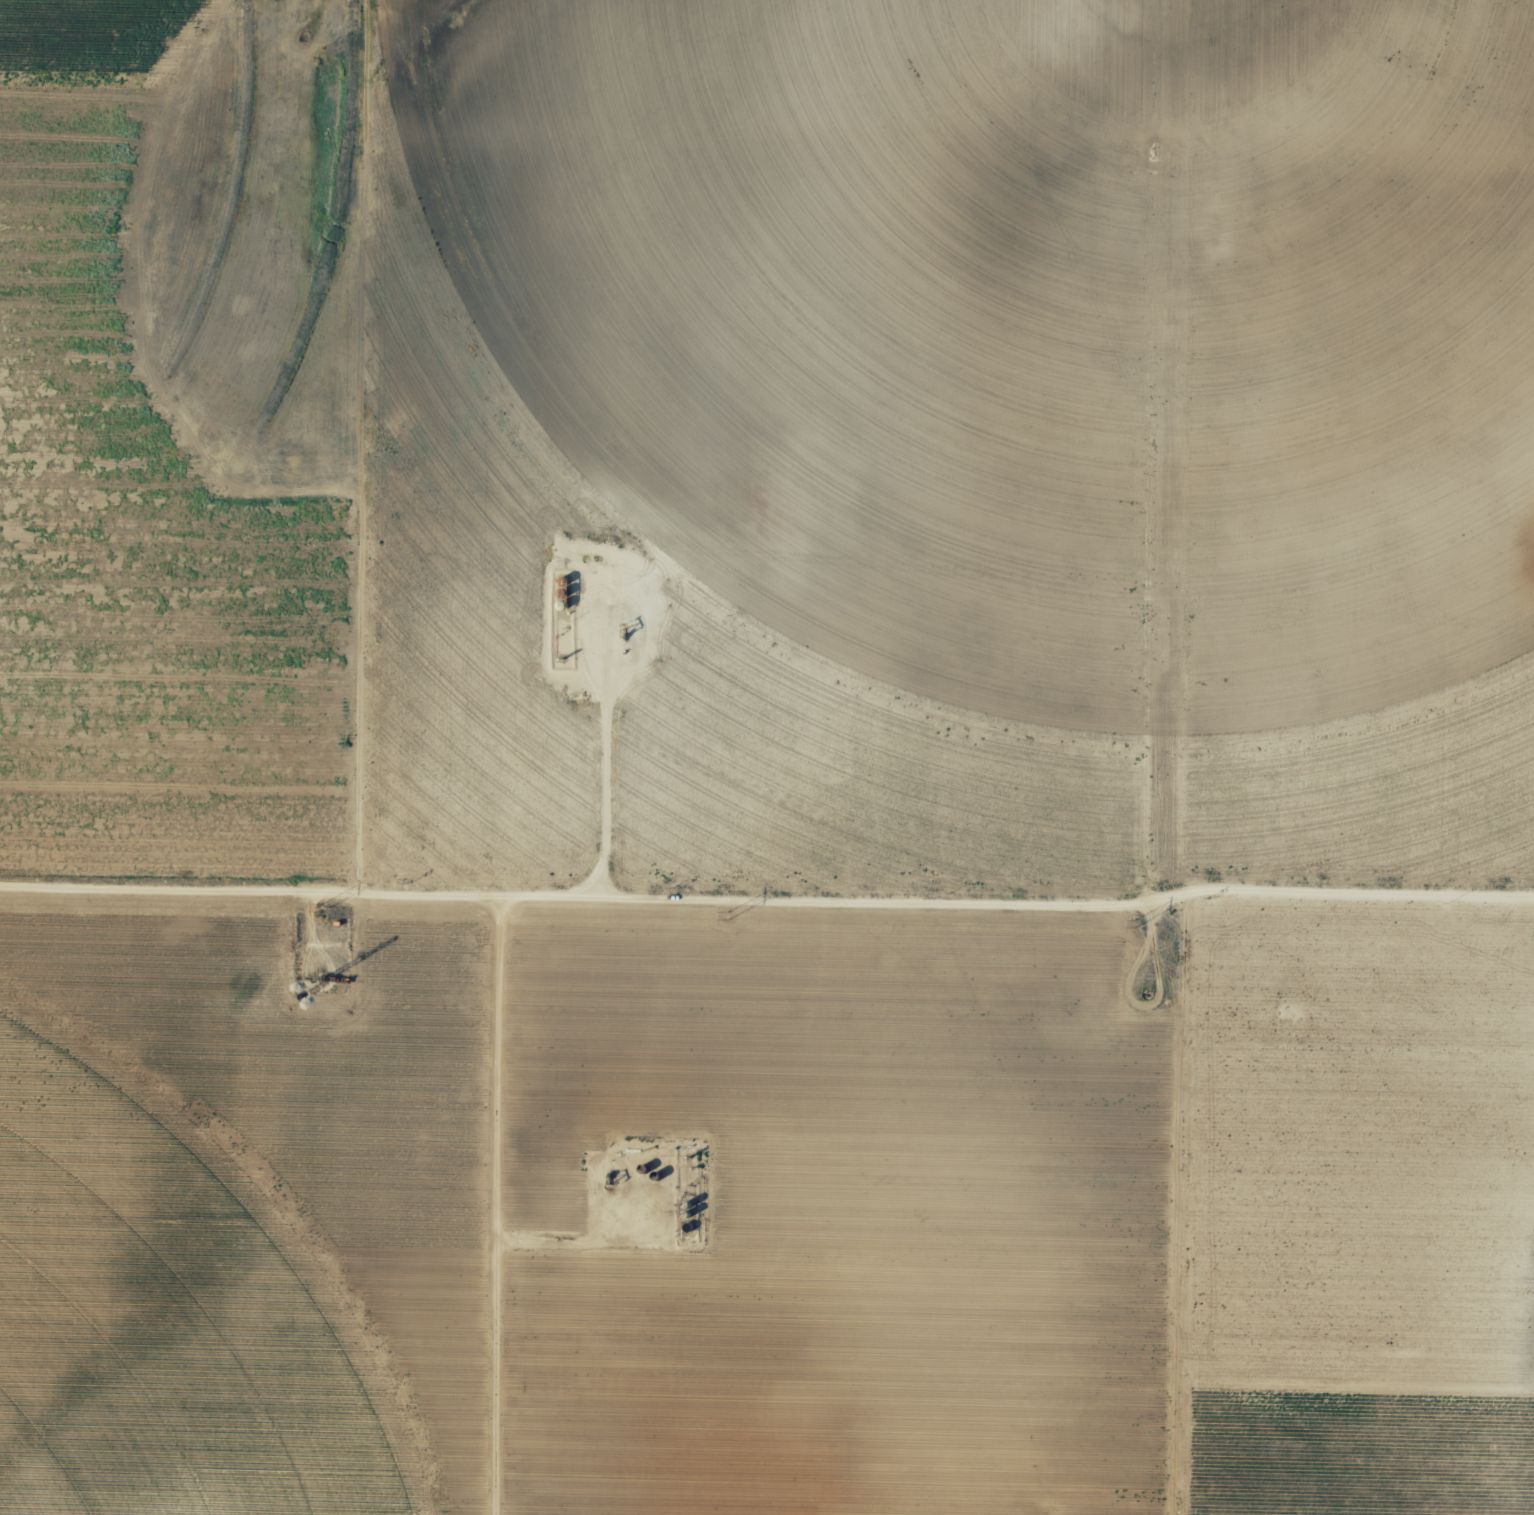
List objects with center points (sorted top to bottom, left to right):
road: (1138, 98)
road: (955, 192)
road: (367, 453)
road: (606, 785)
road: (1198, 856)
road: (766, 918)
road: (498, 1214)

